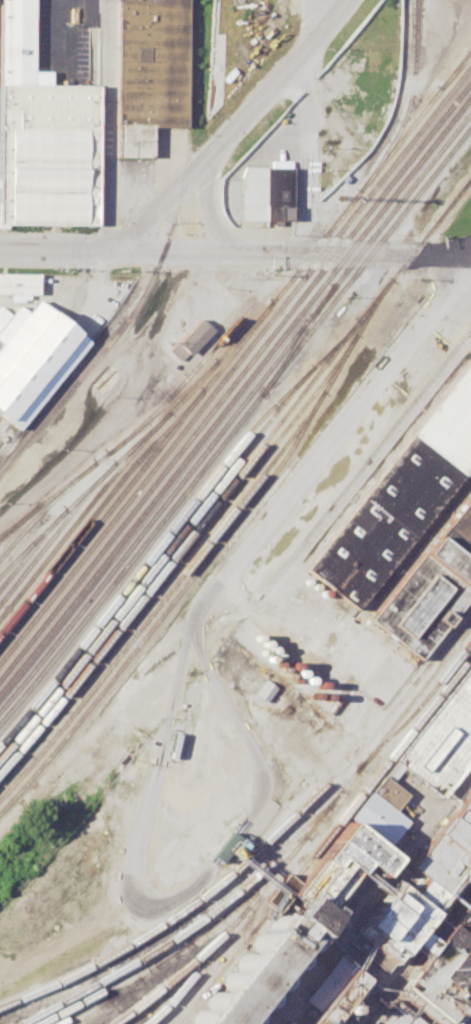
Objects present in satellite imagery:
road: (311, 21)
building: (16, 41)
railway: (193, 67)
building: (150, 71)
railway: (456, 71)
railway: (408, 102)
road: (234, 124)
road: (108, 127)
railway: (390, 150)
building: (48, 154)
building: (265, 192)
road: (206, 206)
road: (62, 249)
road: (298, 252)
building: (19, 283)
railway: (126, 323)
building: (192, 336)
railway: (295, 341)
building: (33, 358)
railway: (235, 362)
railway: (235, 378)
railway: (182, 381)
railway: (235, 392)
road: (125, 400)
railway: (236, 409)
railway: (236, 423)
road: (334, 437)
railway: (155, 449)
railway: (110, 450)
railway: (129, 454)
railway: (236, 475)
road: (361, 476)
building: (399, 497)
railway: (78, 502)
railway: (96, 506)
railway: (44, 507)
railway: (19, 522)
railway: (54, 522)
railway: (201, 535)
railway: (176, 536)
railway: (32, 541)
railway: (153, 551)
railway: (184, 571)
building: (431, 585)
railway: (167, 606)
road: (278, 633)
building: (265, 691)
railway: (417, 711)
building: (444, 744)
railway: (314, 828)
railway: (326, 840)
railway: (262, 847)
road: (175, 897)
road: (369, 897)
railway: (193, 926)
building: (406, 940)
railway: (181, 949)
railway: (418, 957)
building: (259, 966)
silo: (259, 966)
railway: (185, 969)
railway: (117, 984)
railway: (388, 984)
railway: (278, 993)
railway: (109, 1002)

